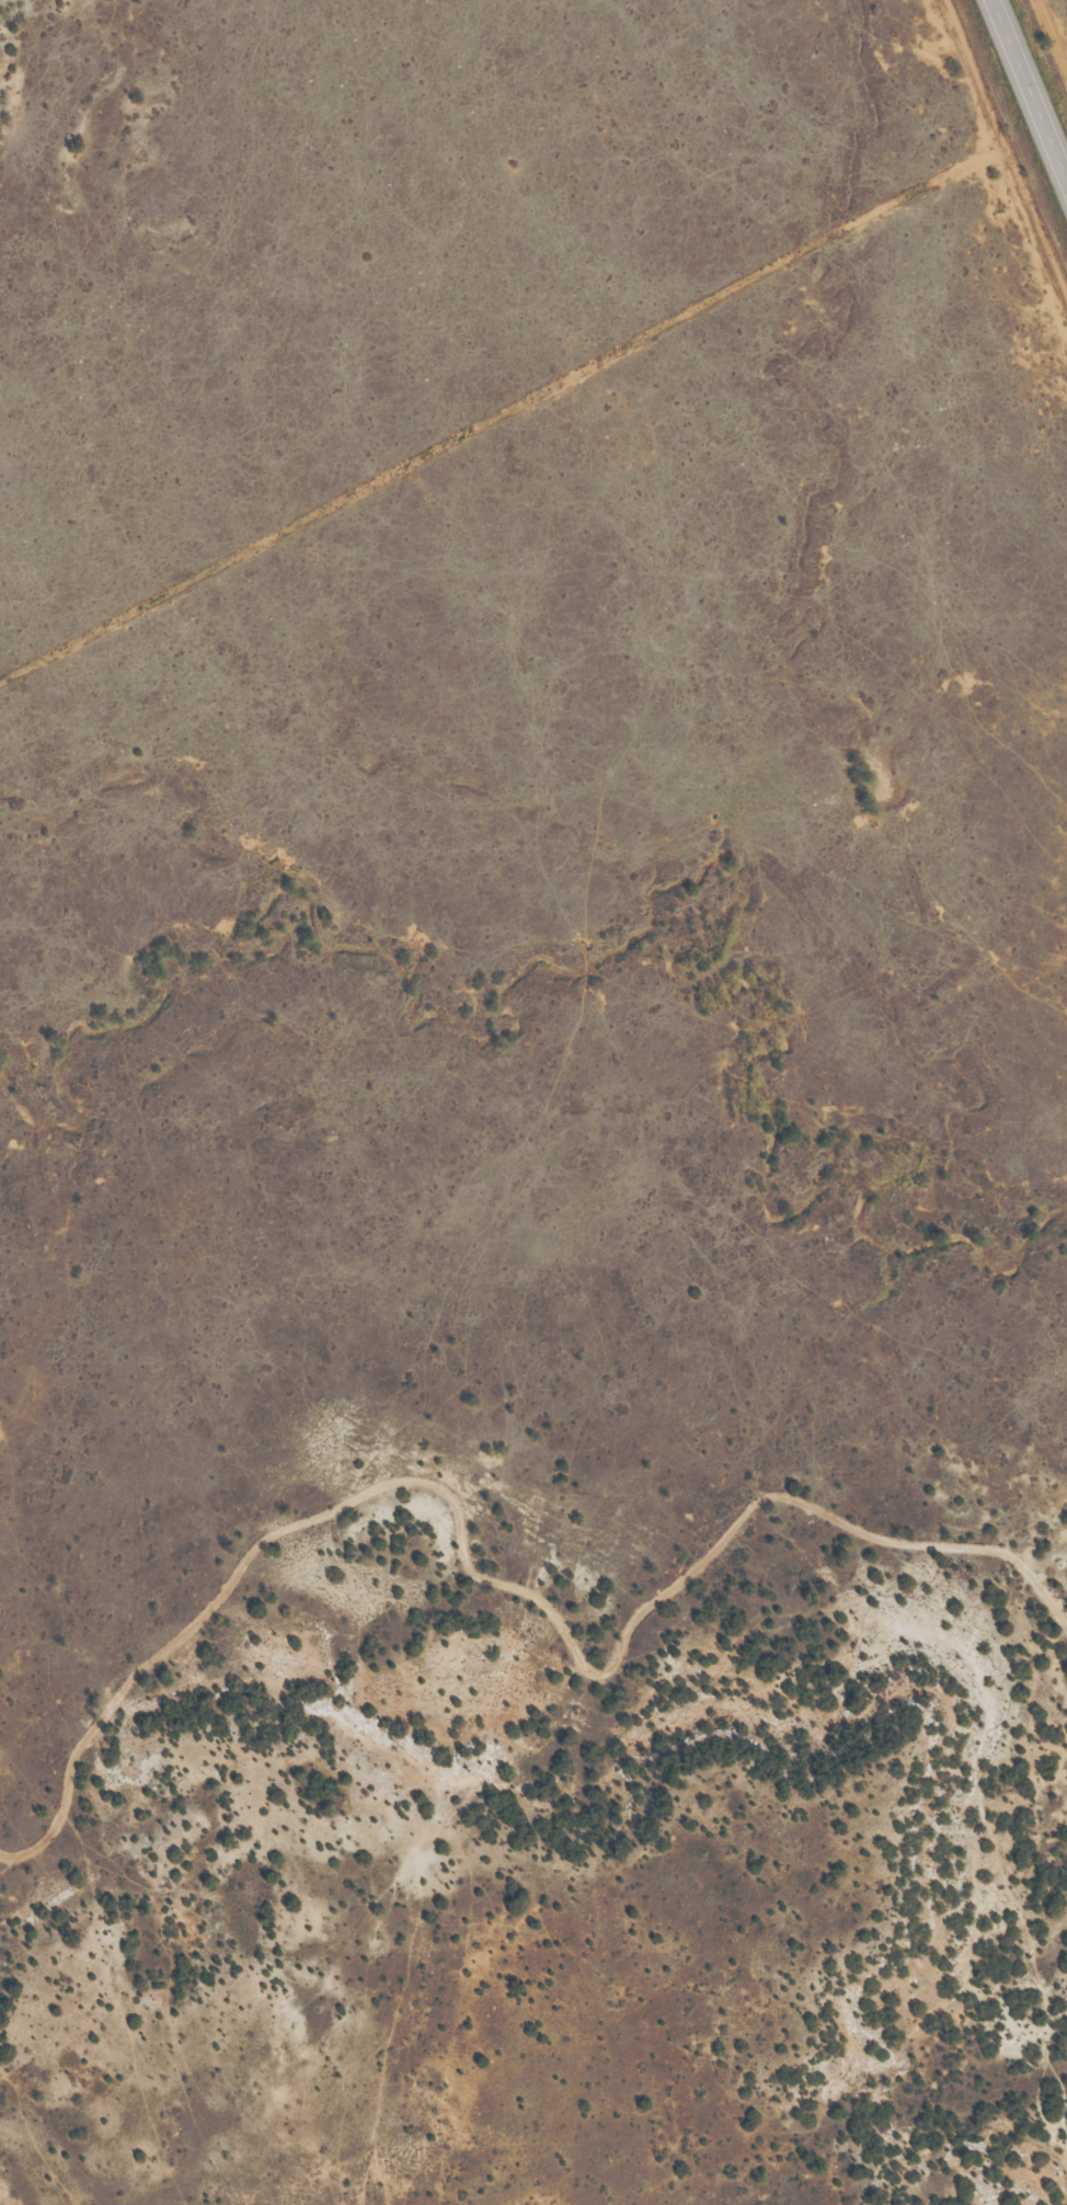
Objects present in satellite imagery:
road: (1052, 35)
road: (1030, 89)
road: (1001, 156)

